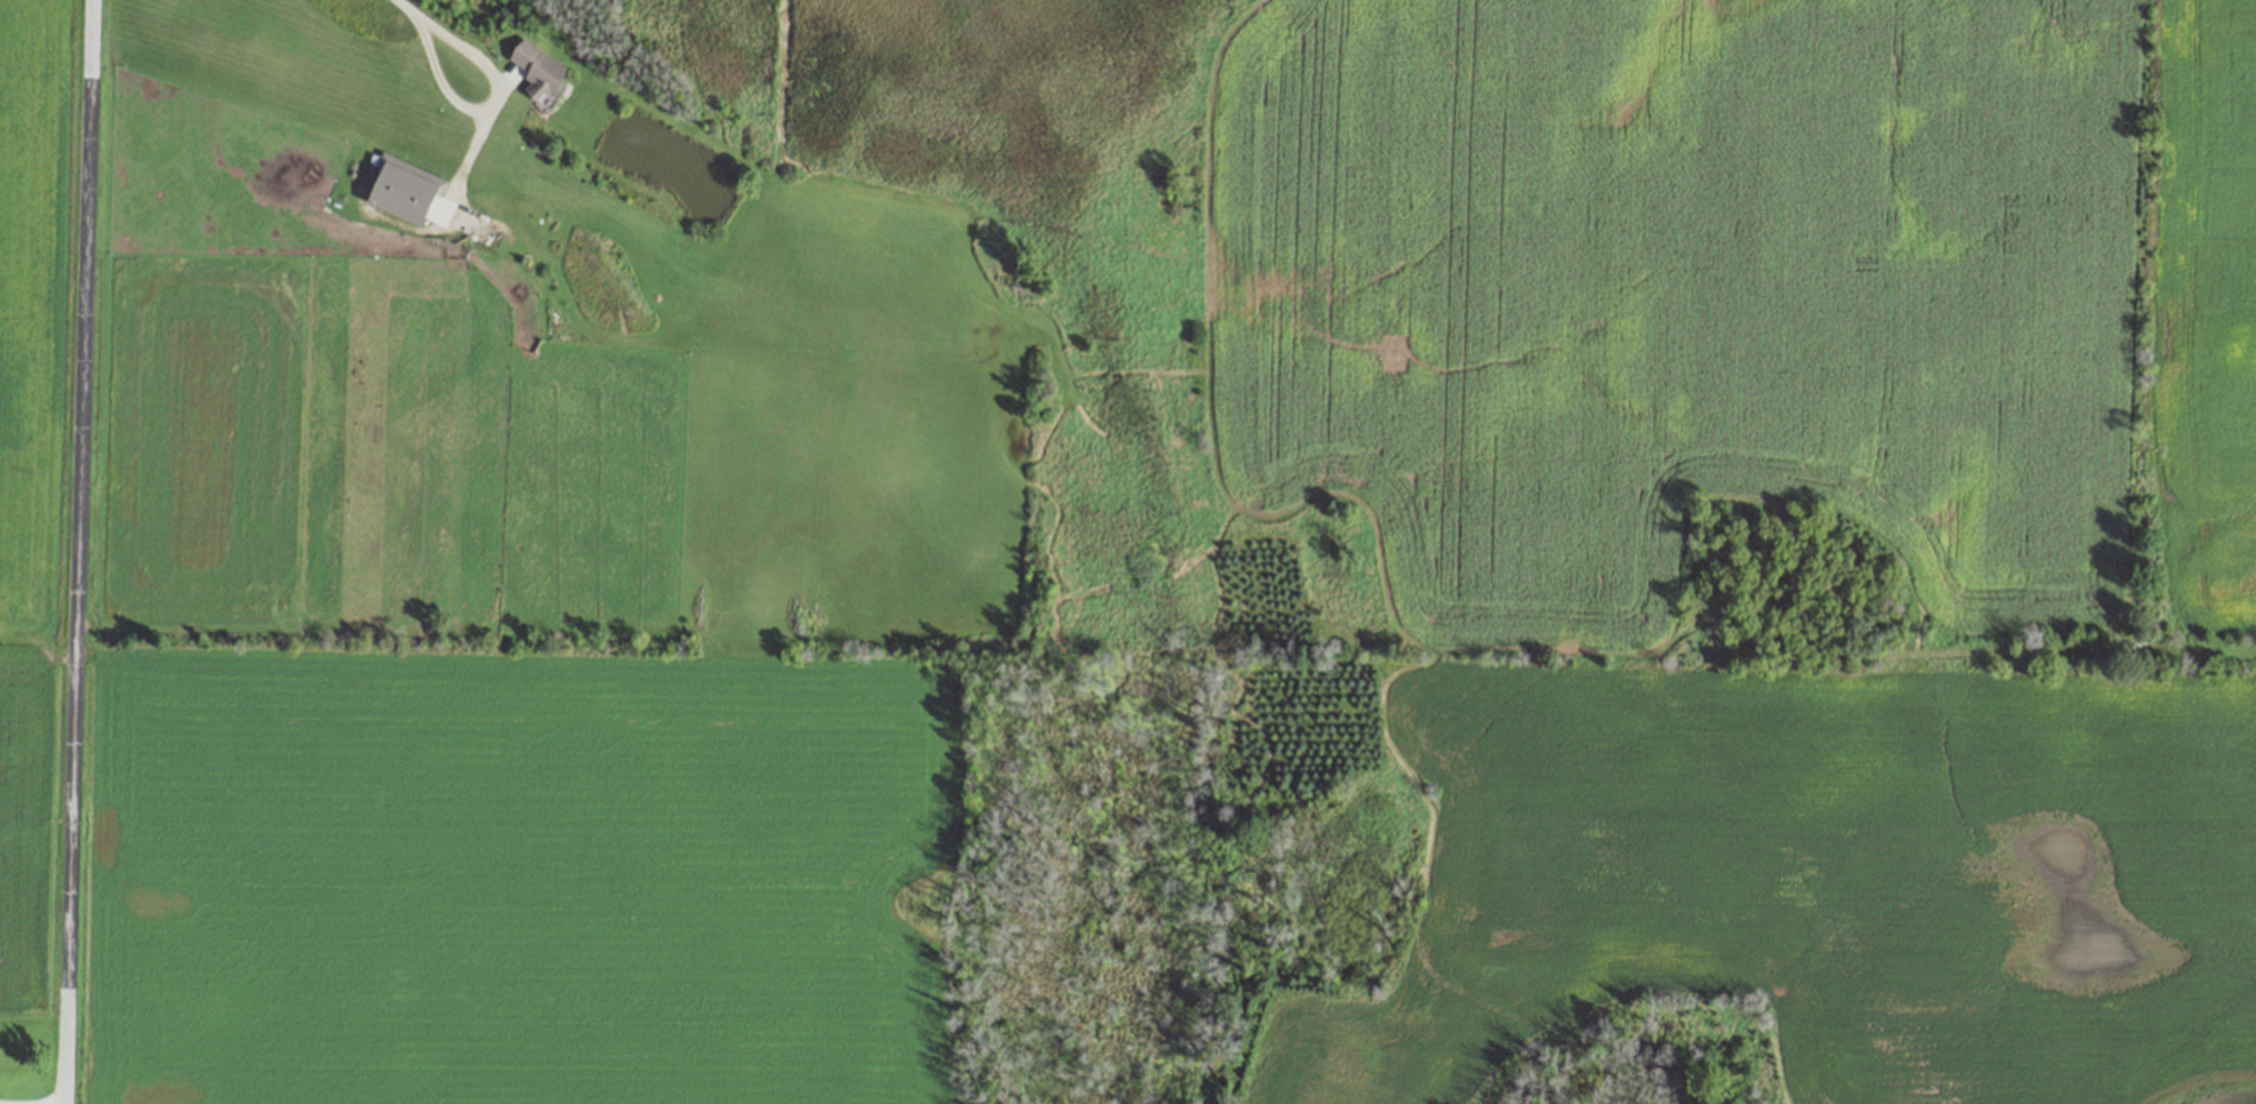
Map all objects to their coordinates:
road: (448, 40)
building: (538, 72)
building: (403, 188)
road: (79, 552)
road: (32, 1102)

